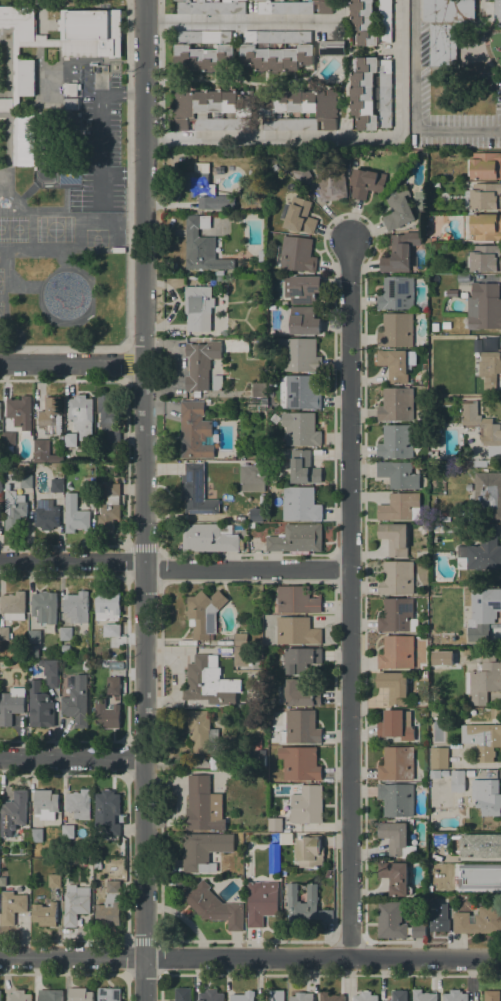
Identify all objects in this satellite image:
building: (212, 7)
building: (294, 7)
road: (238, 21)
building: (371, 22)
building: (450, 26)
building: (90, 33)
building: (237, 48)
building: (332, 48)
building: (204, 50)
building: (278, 51)
road: (160, 69)
building: (23, 77)
building: (71, 89)
building: (371, 93)
building: (71, 103)
building: (6, 105)
road: (414, 105)
building: (212, 109)
building: (299, 109)
road: (338, 138)
building: (485, 165)
building: (274, 167)
building: (303, 174)
building: (331, 180)
building: (366, 182)
building: (436, 183)
building: (203, 185)
building: (483, 196)
building: (398, 208)
building: (298, 216)
building: (482, 227)
road: (127, 236)
building: (427, 240)
building: (202, 246)
building: (399, 252)
building: (296, 254)
building: (261, 255)
building: (483, 258)
building: (219, 272)
building: (302, 288)
building: (451, 292)
building: (396, 293)
building: (484, 306)
building: (198, 307)
building: (305, 320)
building: (446, 325)
building: (435, 327)
building: (396, 330)
building: (478, 341)
building: (299, 353)
road: (71, 362)
building: (201, 363)
building: (396, 364)
building: (490, 368)
building: (215, 382)
building: (260, 389)
building: (299, 392)
building: (207, 401)
building: (397, 404)
building: (20, 413)
building: (52, 415)
building: (81, 415)
building: (109, 416)
building: (482, 427)
building: (302, 429)
building: (195, 431)
building: (9, 438)
building: (70, 439)
building: (396, 442)
building: (40, 450)
building: (474, 464)
building: (304, 468)
building: (399, 474)
building: (253, 477)
building: (26, 481)
building: (56, 485)
building: (0, 486)
building: (469, 487)
building: (87, 489)
building: (196, 491)
building: (489, 492)
road: (143, 500)
building: (300, 504)
building: (400, 507)
building: (14, 508)
building: (110, 509)
building: (46, 514)
building: (75, 515)
building: (256, 515)
building: (446, 516)
building: (186, 523)
building: (251, 524)
building: (210, 538)
building: (394, 538)
building: (297, 539)
building: (483, 550)
road: (72, 560)
road: (246, 569)
building: (396, 578)
road: (349, 597)
building: (297, 600)
building: (44, 605)
building: (13, 606)
building: (77, 607)
building: (108, 612)
building: (204, 613)
building: (483, 613)
building: (398, 616)
building: (252, 625)
building: (297, 631)
building: (4, 633)
building: (66, 633)
building: (34, 636)
building: (241, 639)
building: (66, 648)
building: (397, 652)
building: (240, 655)
building: (301, 659)
building: (86, 664)
building: (50, 672)
building: (483, 679)
building: (207, 681)
building: (236, 686)
building: (395, 687)
building: (113, 688)
building: (301, 693)
building: (77, 702)
building: (11, 705)
building: (40, 707)
building: (107, 714)
building: (396, 724)
building: (301, 727)
building: (201, 731)
building: (482, 739)
road: (71, 756)
building: (439, 758)
building: (258, 759)
building: (224, 763)
building: (300, 764)
building: (397, 764)
building: (434, 773)
building: (445, 774)
building: (458, 781)
building: (487, 796)
building: (396, 799)
building: (46, 804)
building: (79, 804)
building: (107, 804)
building: (203, 805)
building: (307, 805)
building: (13, 812)
building: (274, 823)
building: (113, 830)
building: (68, 831)
building: (36, 835)
building: (396, 838)
building: (286, 839)
building: (481, 846)
building: (202, 849)
building: (309, 851)
building: (275, 862)
building: (480, 875)
building: (395, 877)
building: (54, 880)
building: (431, 898)
building: (261, 902)
building: (75, 904)
building: (109, 905)
building: (306, 905)
building: (11, 906)
building: (214, 906)
building: (44, 914)
building: (437, 917)
building: (391, 920)
building: (479, 921)
building: (419, 930)
building: (442, 936)
road: (250, 957)
building: (80, 994)
building: (109, 994)
building: (183, 994)
building: (0, 995)
building: (50, 995)
building: (211, 995)
building: (276, 995)
building: (399, 995)
building: (455, 995)
building: (492, 995)
building: (18, 996)
building: (243, 996)
building: (330, 996)
building: (365, 996)
building: (423, 996)
building: (302, 997)

